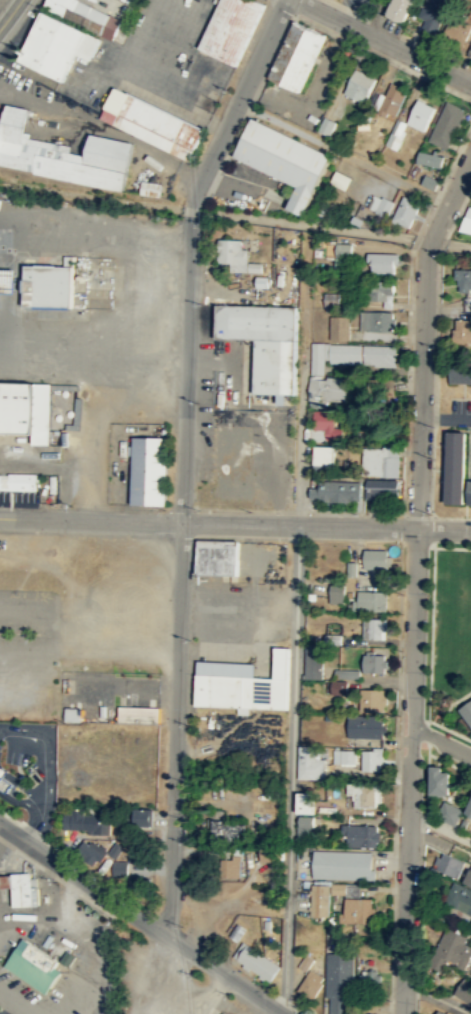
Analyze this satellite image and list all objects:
parking lot: (361, 5)
building: (399, 8)
road: (350, 12)
building: (470, 12)
road: (9, 13)
building: (432, 13)
building: (89, 16)
building: (230, 28)
building: (457, 28)
road: (280, 41)
road: (383, 42)
building: (55, 44)
building: (470, 49)
building: (296, 54)
building: (359, 85)
building: (392, 98)
road: (236, 101)
road: (249, 107)
building: (420, 114)
building: (150, 122)
building: (445, 124)
building: (326, 125)
building: (395, 133)
road: (341, 152)
building: (62, 154)
road: (225, 158)
building: (429, 158)
building: (284, 159)
building: (341, 179)
building: (429, 181)
building: (150, 188)
building: (384, 206)
road: (192, 210)
building: (405, 210)
building: (356, 219)
building: (467, 221)
building: (343, 249)
building: (232, 253)
building: (382, 262)
building: (463, 278)
building: (261, 281)
building: (47, 286)
building: (380, 289)
building: (331, 298)
building: (375, 320)
building: (339, 327)
building: (462, 333)
road: (423, 335)
building: (264, 341)
building: (332, 355)
building: (378, 355)
road: (187, 368)
building: (459, 375)
building: (328, 388)
building: (25, 409)
road: (446, 416)
building: (326, 424)
building: (322, 454)
building: (379, 462)
building: (454, 468)
building: (151, 470)
building: (20, 482)
building: (380, 488)
building: (334, 492)
building: (469, 493)
road: (91, 518)
road: (299, 525)
road: (444, 528)
building: (217, 557)
building: (375, 558)
building: (336, 592)
building: (371, 600)
building: (373, 627)
building: (312, 662)
building: (373, 662)
building: (346, 673)
road: (293, 685)
building: (246, 686)
building: (338, 686)
building: (371, 699)
building: (466, 713)
building: (138, 714)
building: (71, 715)
street lamp: (187, 724)
building: (365, 727)
road: (175, 728)
road: (441, 741)
building: (347, 756)
building: (372, 758)
building: (308, 763)
road: (410, 771)
road: (49, 777)
building: (440, 780)
building: (4, 781)
building: (365, 794)
building: (304, 805)
building: (469, 808)
building: (448, 813)
building: (142, 818)
building: (86, 821)
building: (305, 825)
road: (32, 829)
building: (227, 830)
building: (361, 835)
building: (90, 852)
building: (136, 854)
building: (266, 855)
building: (448, 864)
building: (342, 865)
building: (119, 868)
building: (225, 868)
building: (468, 877)
building: (21, 887)
building: (345, 888)
building: (460, 898)
building: (319, 901)
building: (356, 910)
road: (140, 918)
building: (470, 924)
street lamp: (185, 927)
building: (454, 947)
building: (67, 958)
building: (306, 961)
building: (255, 962)
building: (32, 965)
building: (370, 977)
building: (338, 983)
building: (310, 985)
building: (464, 990)
street lamp: (229, 994)
road: (25, 1000)
road: (10, 1003)
building: (440, 1012)
building: (222, 1013)
building: (369, 1013)

